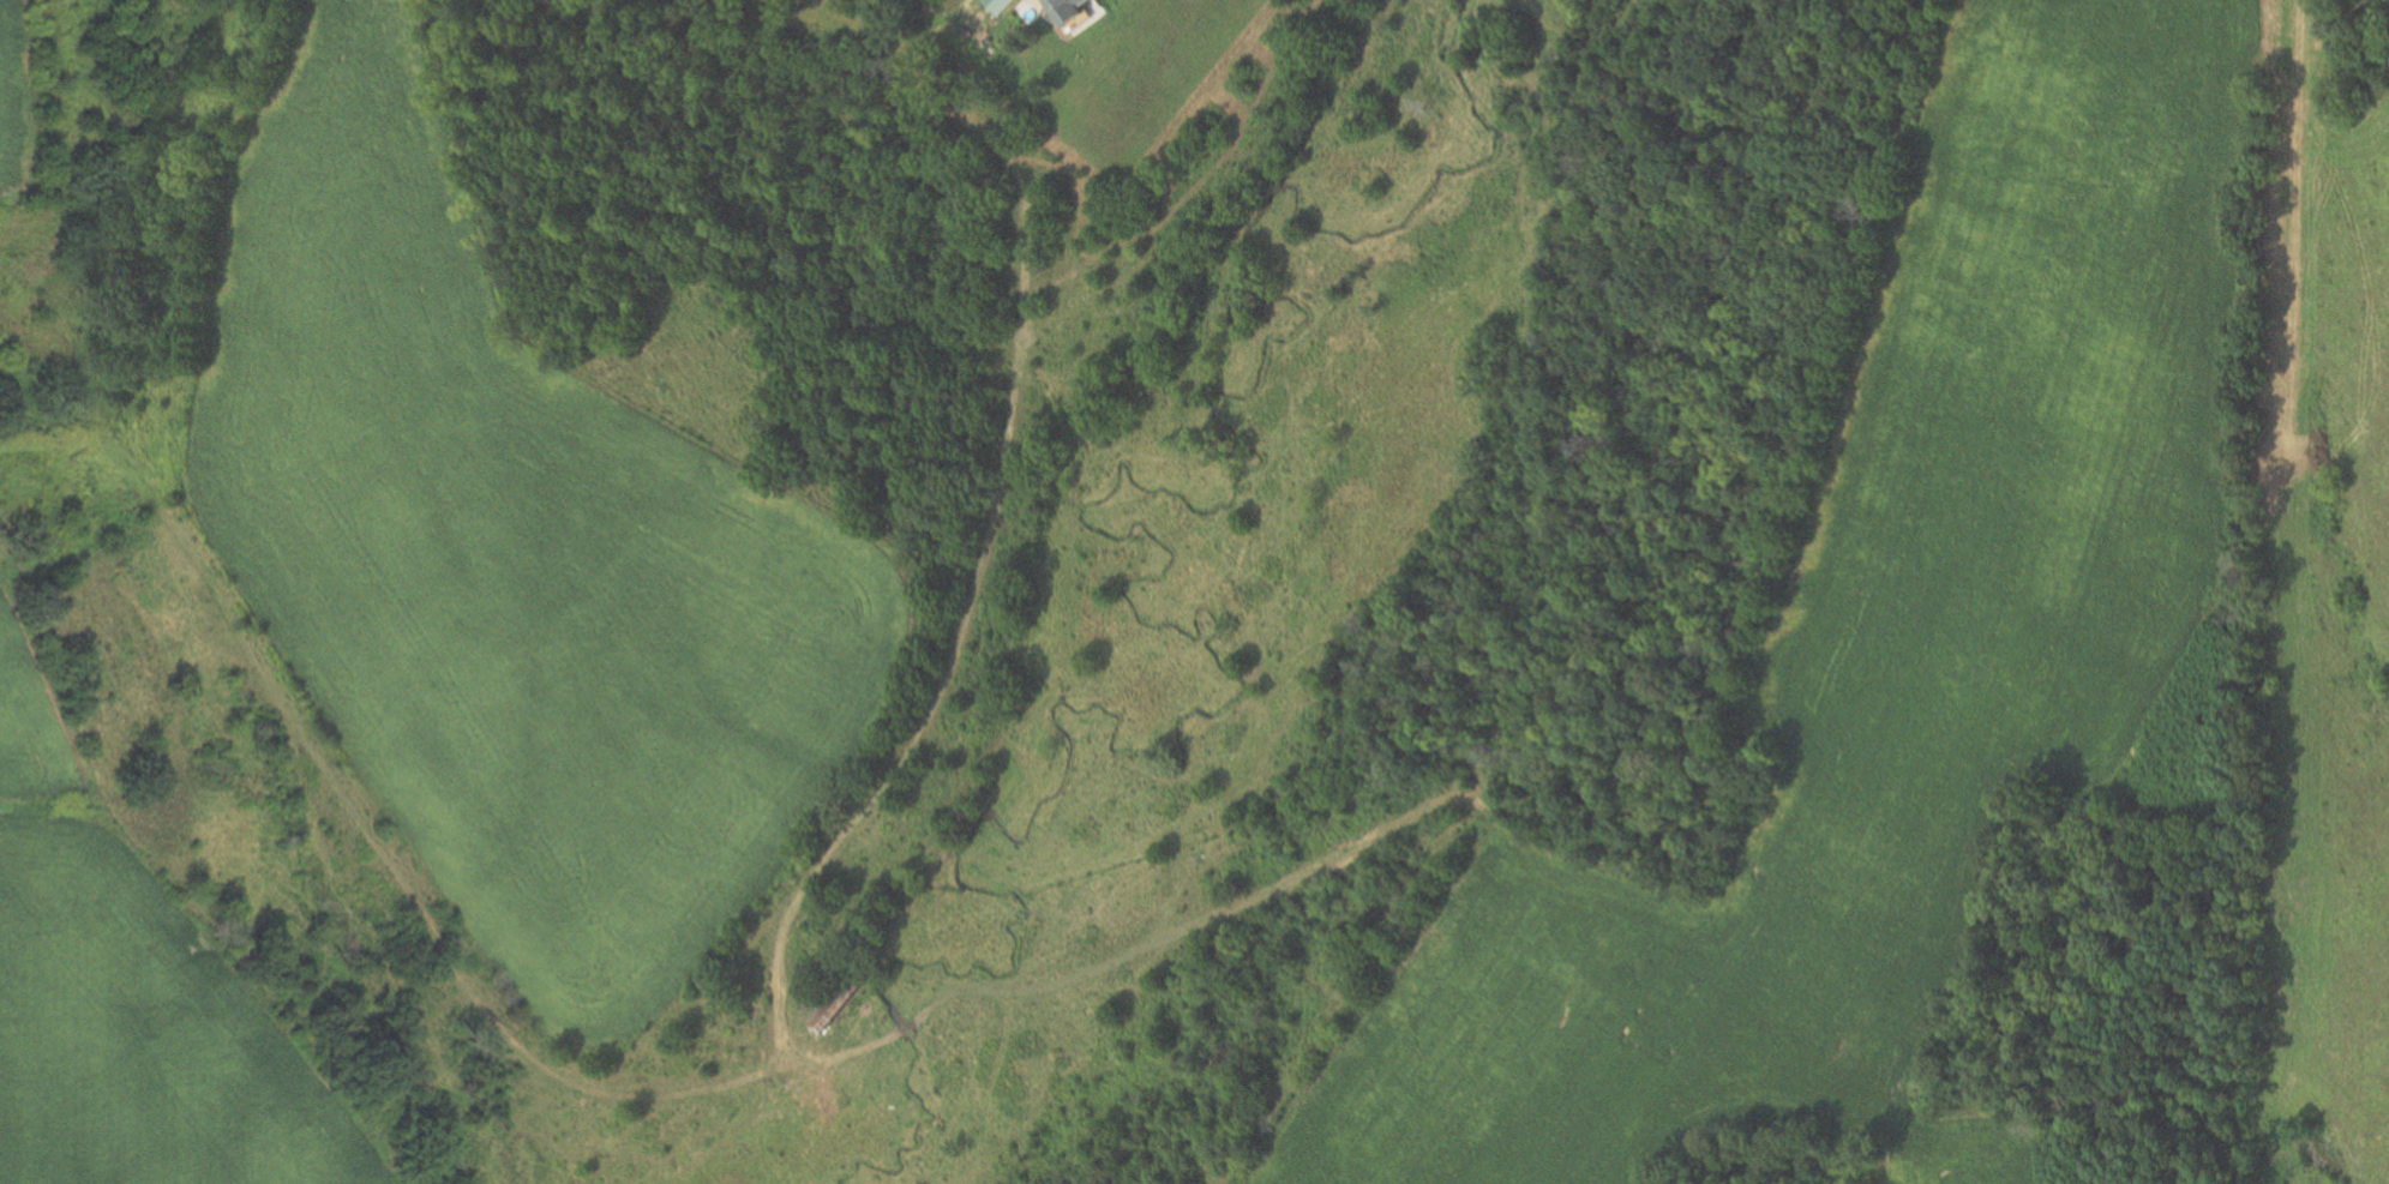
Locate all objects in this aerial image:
building: (997, 6)
building: (1063, 12)
building: (833, 1005)

